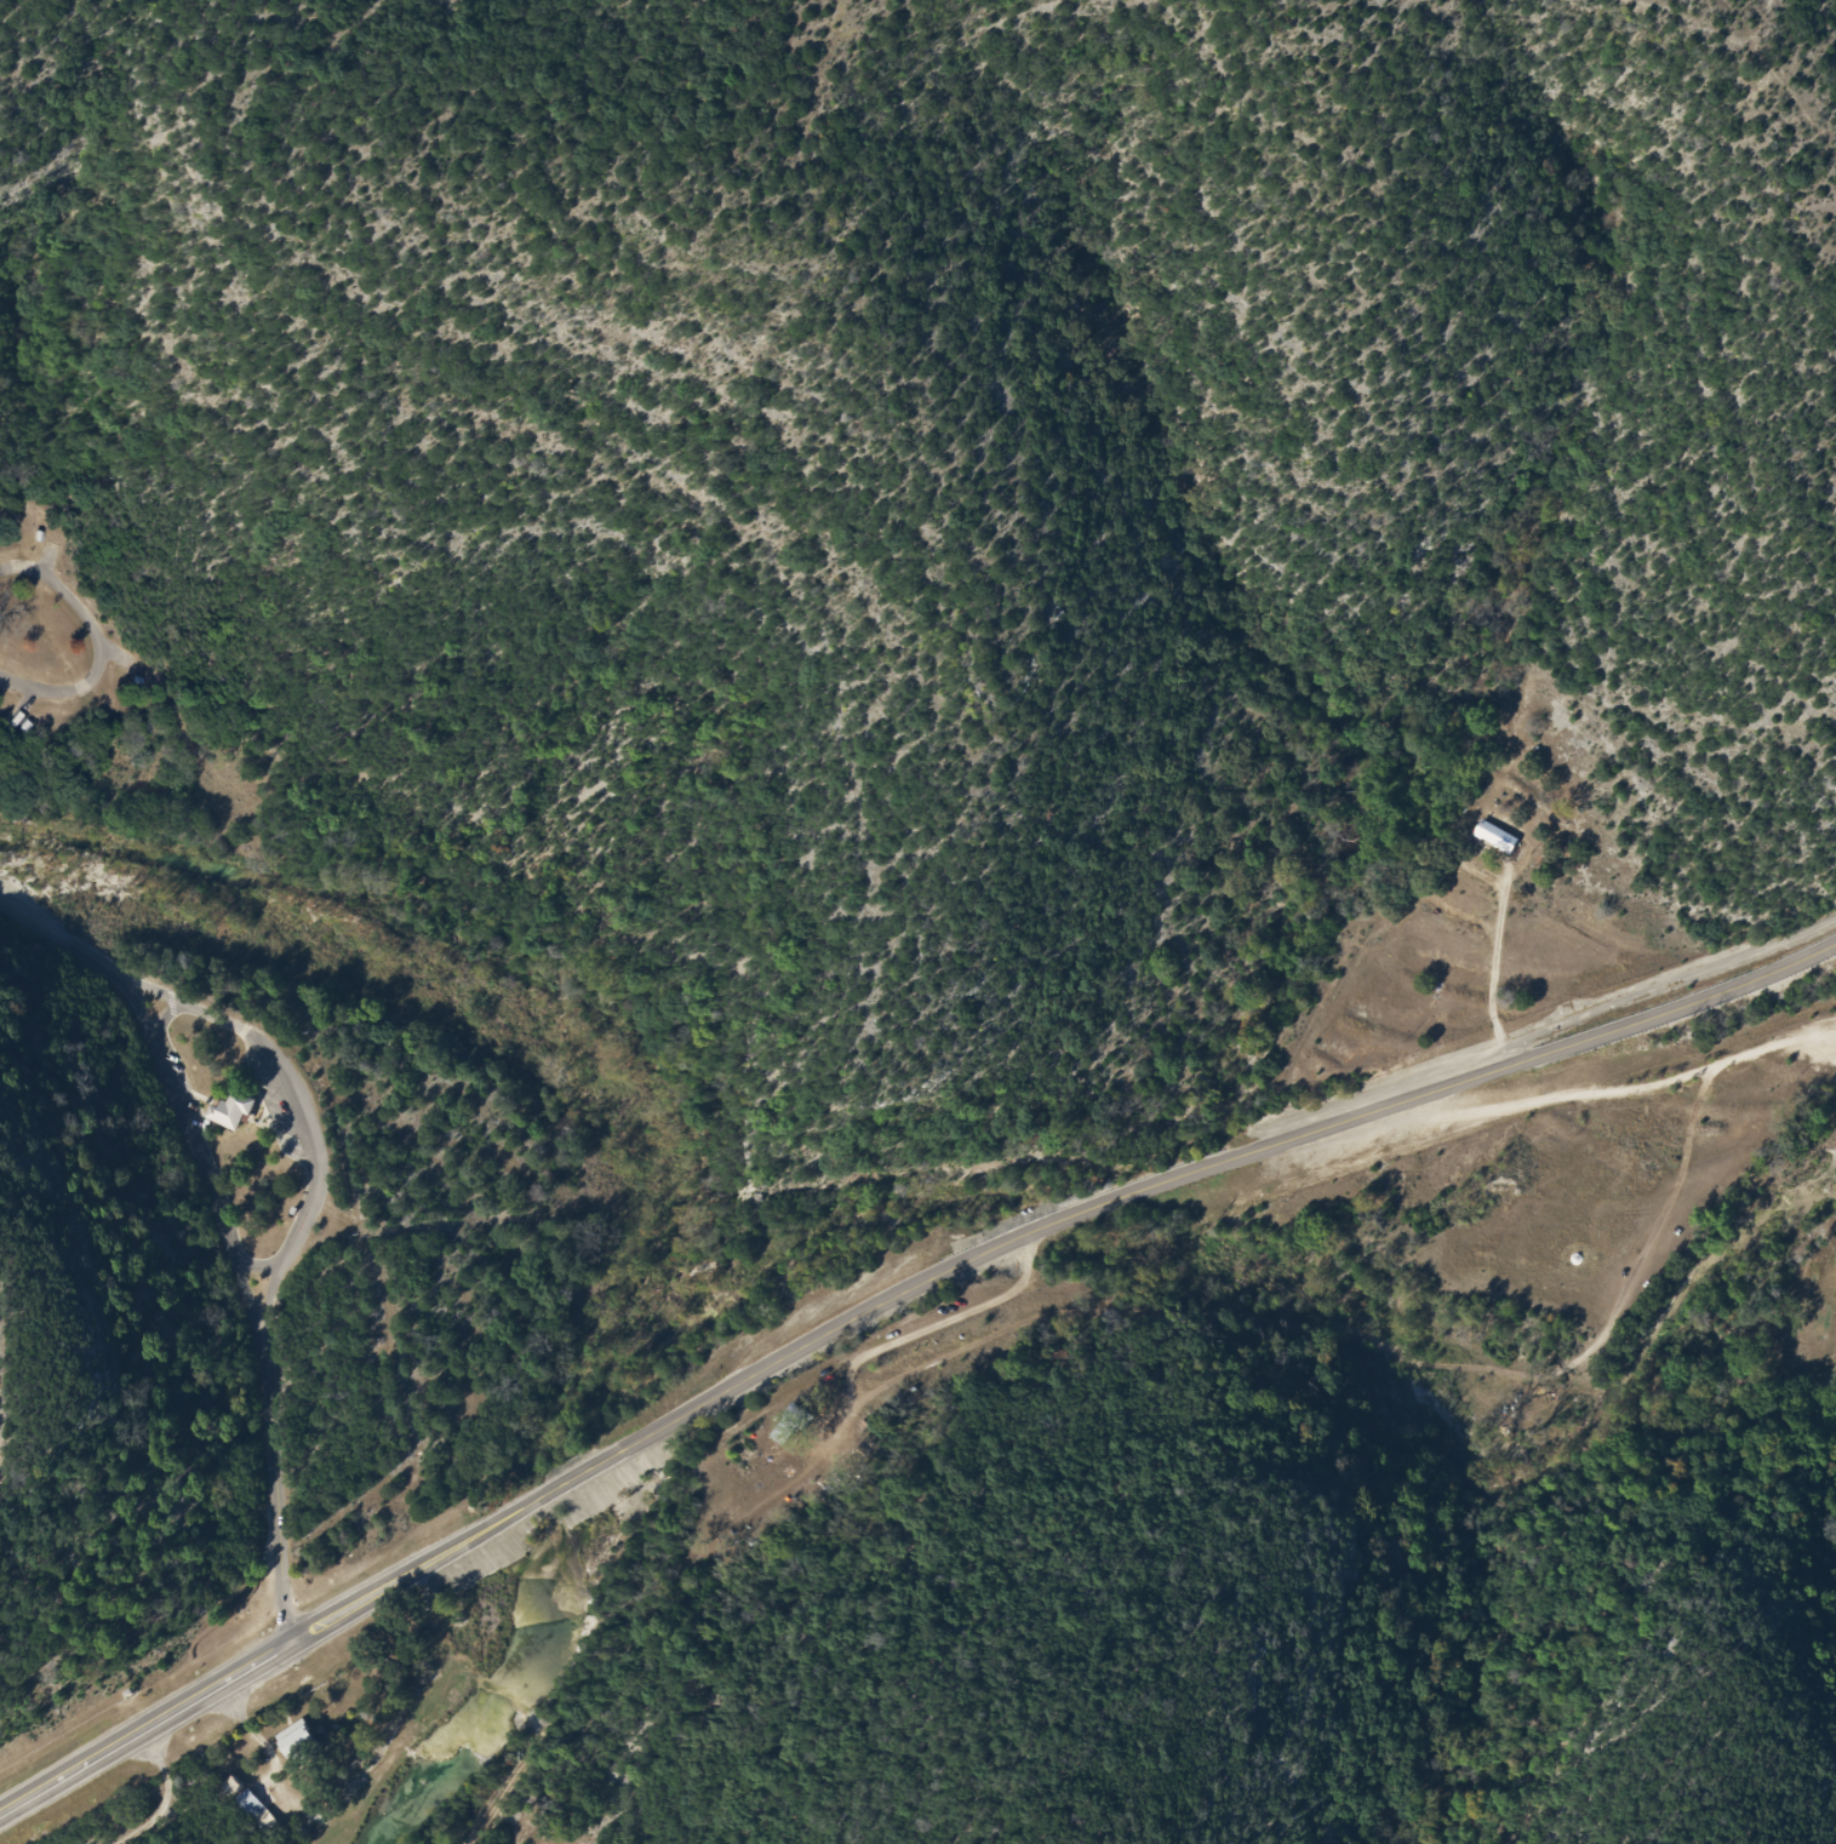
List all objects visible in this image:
road: (52, 561)
road: (99, 640)
road: (120, 654)
road: (24, 704)
park: (503, 768)
building: (1492, 837)
river: (170, 863)
road: (219, 1019)
parking lot: (182, 1095)
parking lot: (288, 1100)
building: (238, 1111)
river: (721, 1121)
road: (318, 1190)
road: (218, 1216)
road: (257, 1267)
road: (883, 1302)
road: (945, 1322)
building: (791, 1421)
river: (548, 1511)
river: (501, 1705)
building: (304, 1737)
building: (254, 1803)

